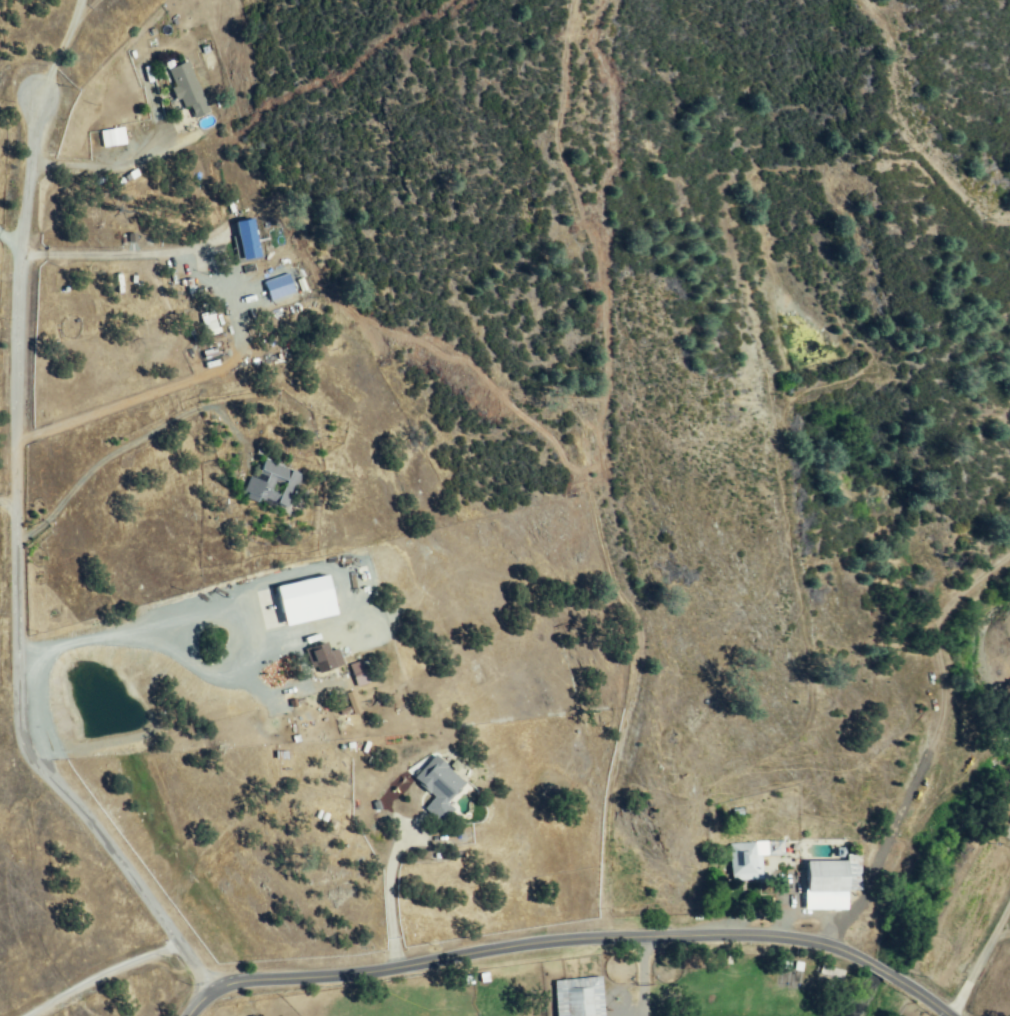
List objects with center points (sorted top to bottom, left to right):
road: (60, 43)
building: (188, 90)
building: (109, 137)
road: (103, 167)
building: (247, 241)
road: (11, 246)
road: (105, 258)
building: (275, 288)
building: (210, 324)
road: (123, 447)
building: (275, 485)
road: (9, 502)
road: (18, 544)
building: (299, 601)
road: (213, 611)
building: (324, 658)
building: (360, 675)
building: (350, 703)
building: (440, 787)
building: (748, 862)
building: (834, 877)
road: (388, 901)
road: (569, 944)
road: (982, 962)
road: (100, 974)
road: (638, 978)
building: (580, 998)

